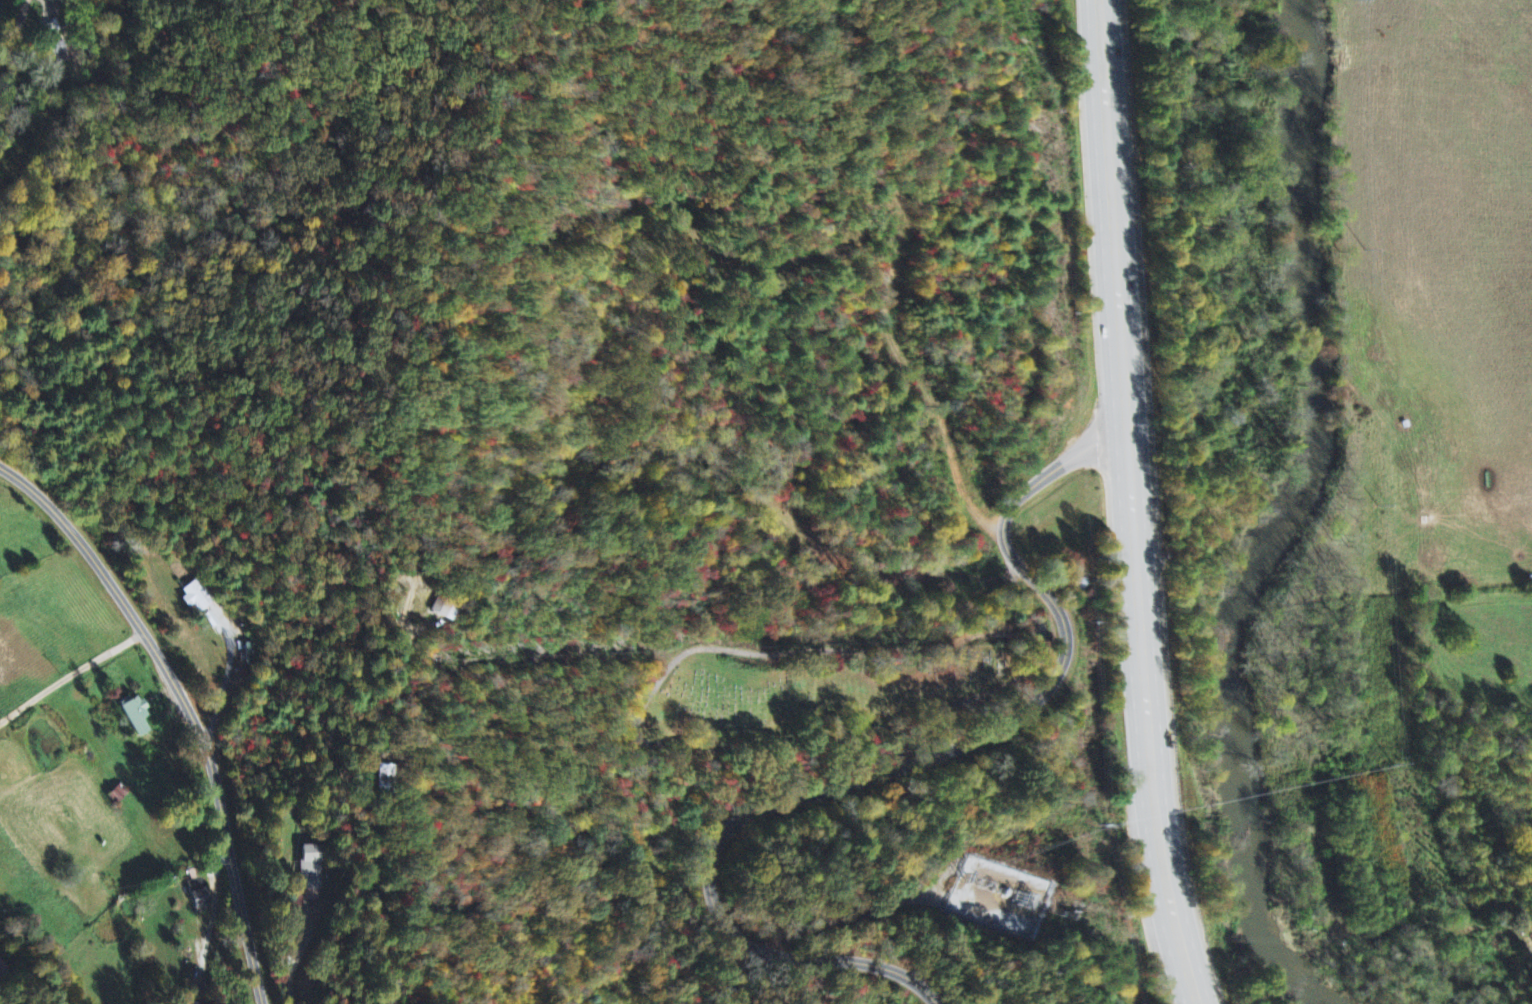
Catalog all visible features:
road: (16, 31)
road: (1133, 504)
river: (1285, 516)
building: (197, 598)
building: (439, 611)
road: (72, 676)
park: (823, 690)
road: (187, 706)
building: (132, 716)
road: (897, 766)
road: (370, 827)
building: (309, 876)
building: (200, 895)
building: (0, 966)

